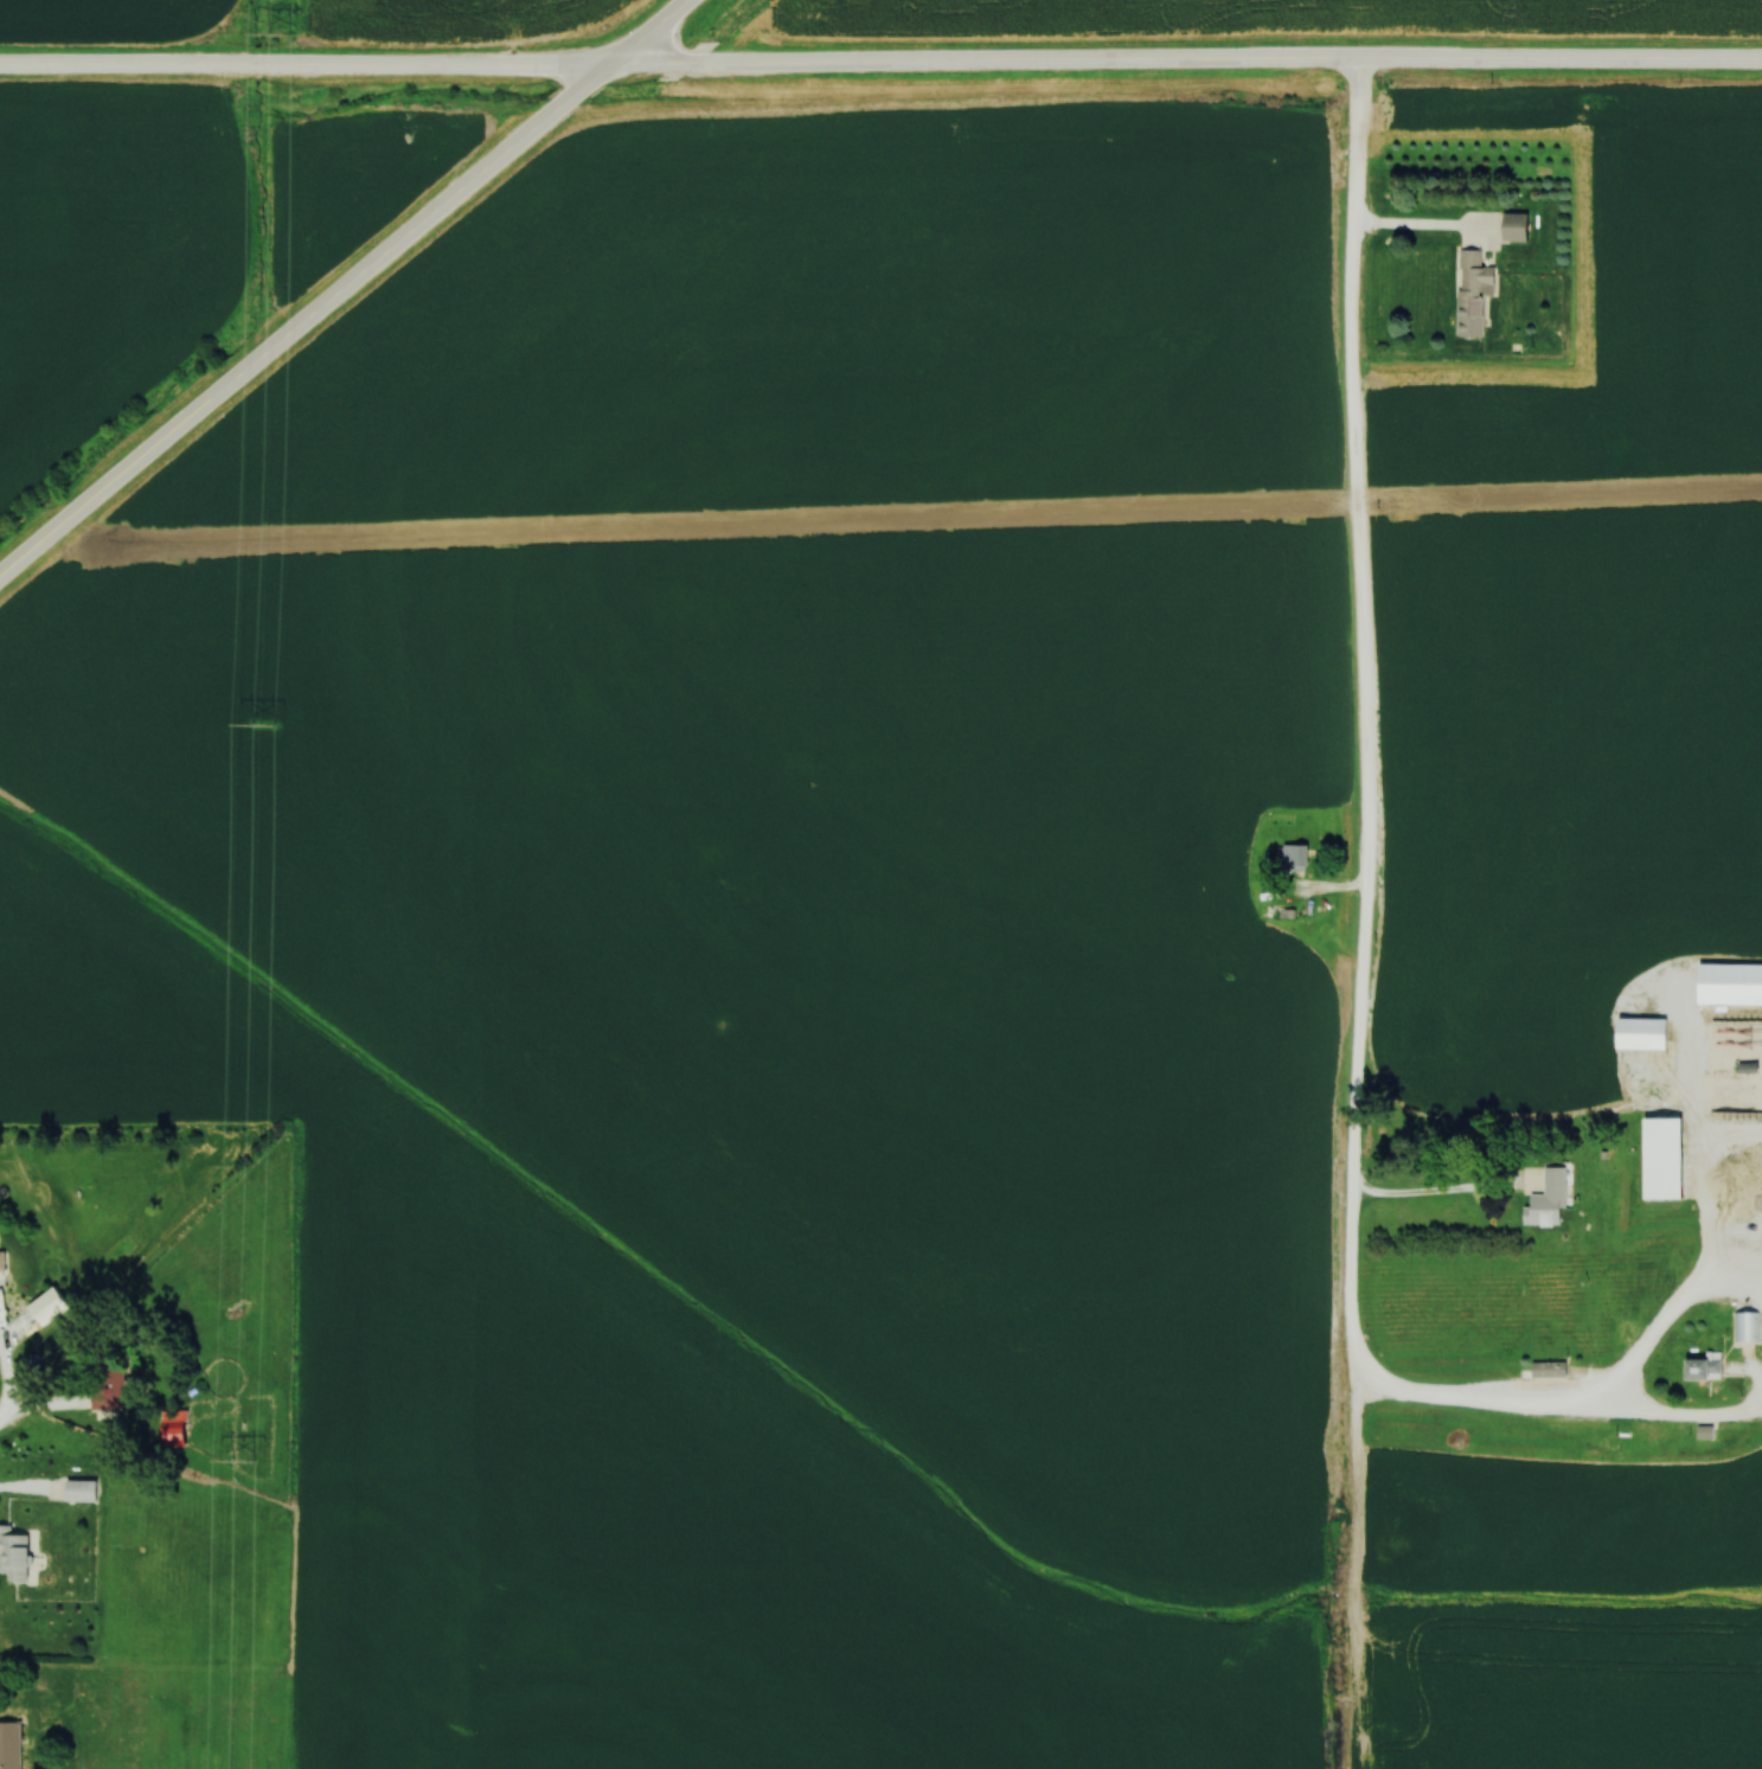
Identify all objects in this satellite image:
power tower: (283, 32)
road: (880, 64)
building: (1520, 229)
road: (1418, 230)
road: (344, 289)
building: (1476, 295)
road: (1366, 724)
power tower: (265, 728)
building: (1300, 859)
building: (1732, 986)
building: (1648, 1036)
building: (1667, 1161)
road: (1441, 1194)
road: (1706, 1199)
building: (1551, 1201)
building: (4, 1261)
building: (55, 1307)
building: (1747, 1328)
road: (7, 1360)
building: (1709, 1369)
building: (1553, 1371)
road: (1602, 1396)
road: (1469, 1402)
road: (9, 1409)
power tower: (246, 1460)
building: (84, 1492)
building: (18, 1555)
building: (11, 1745)

